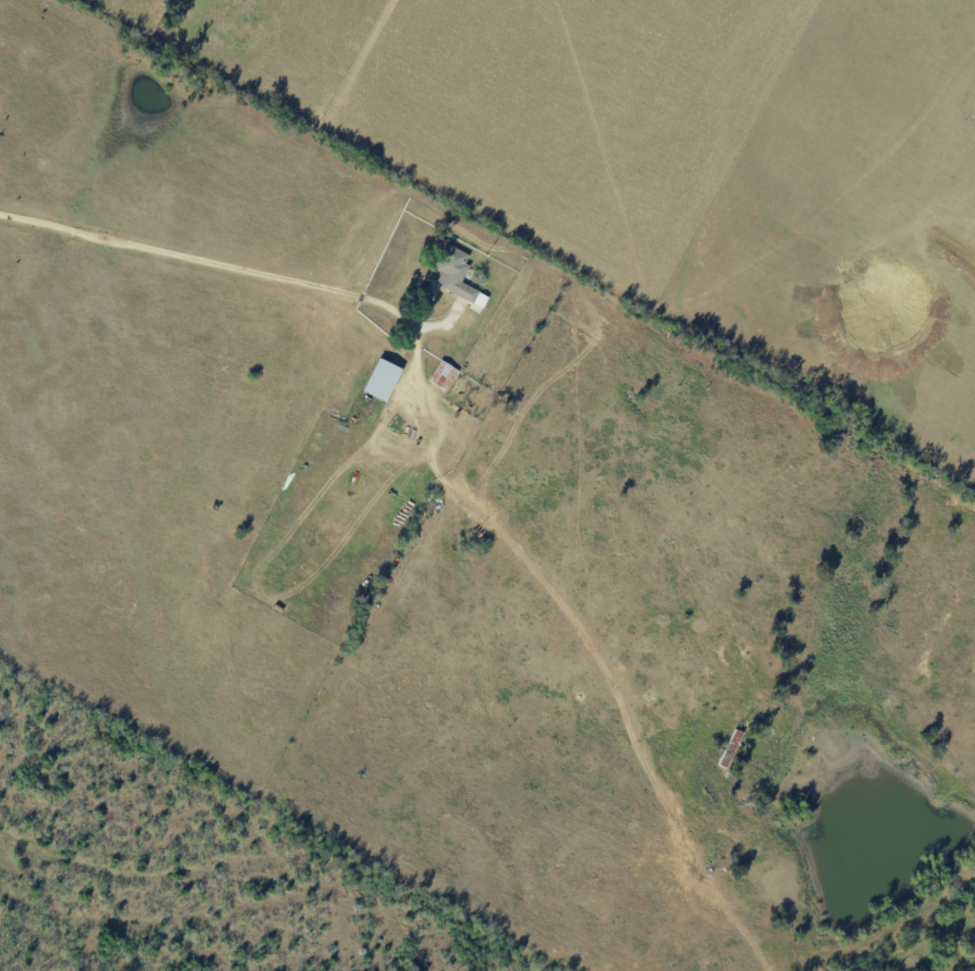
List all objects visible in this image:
road: (251, 269)
building: (459, 274)
building: (445, 374)
building: (385, 377)

